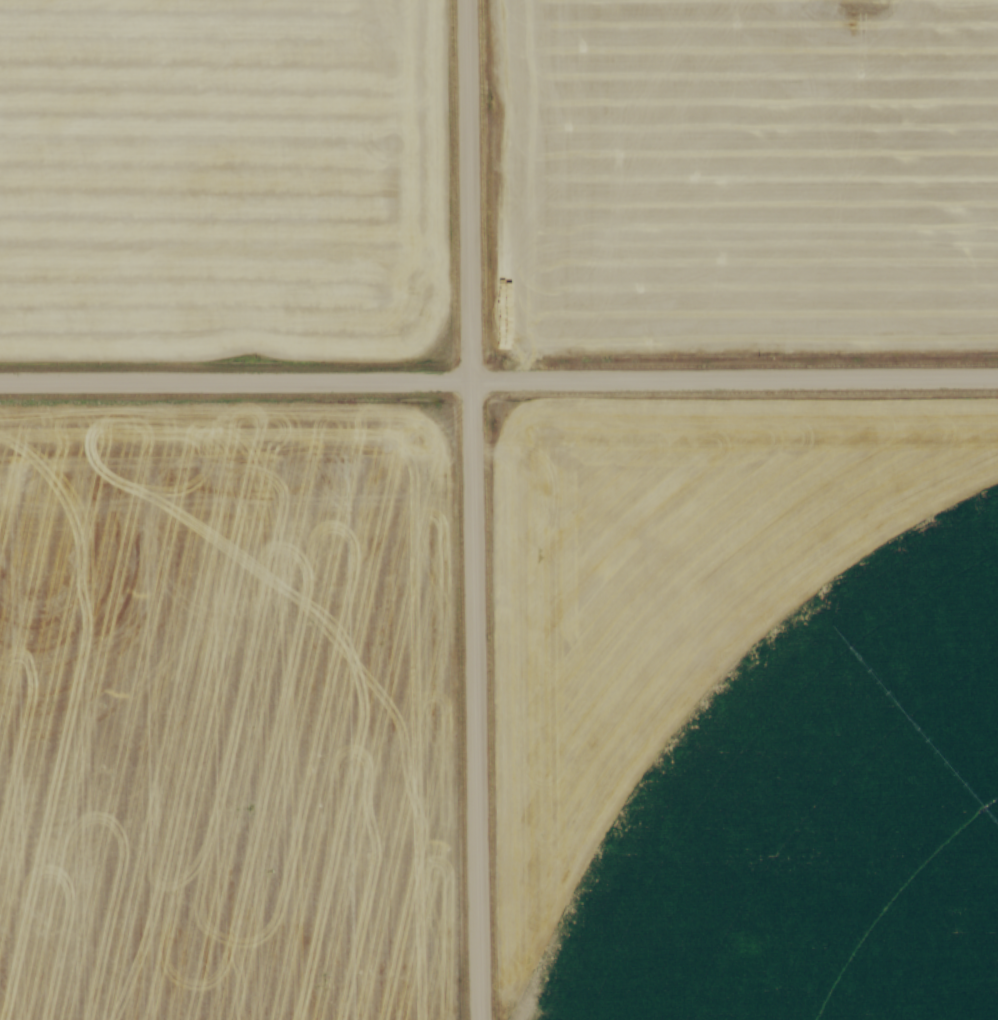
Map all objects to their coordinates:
crop: (741, 175)
crop: (221, 179)
road: (498, 379)
road: (472, 510)
crop: (228, 711)
crop: (746, 711)

